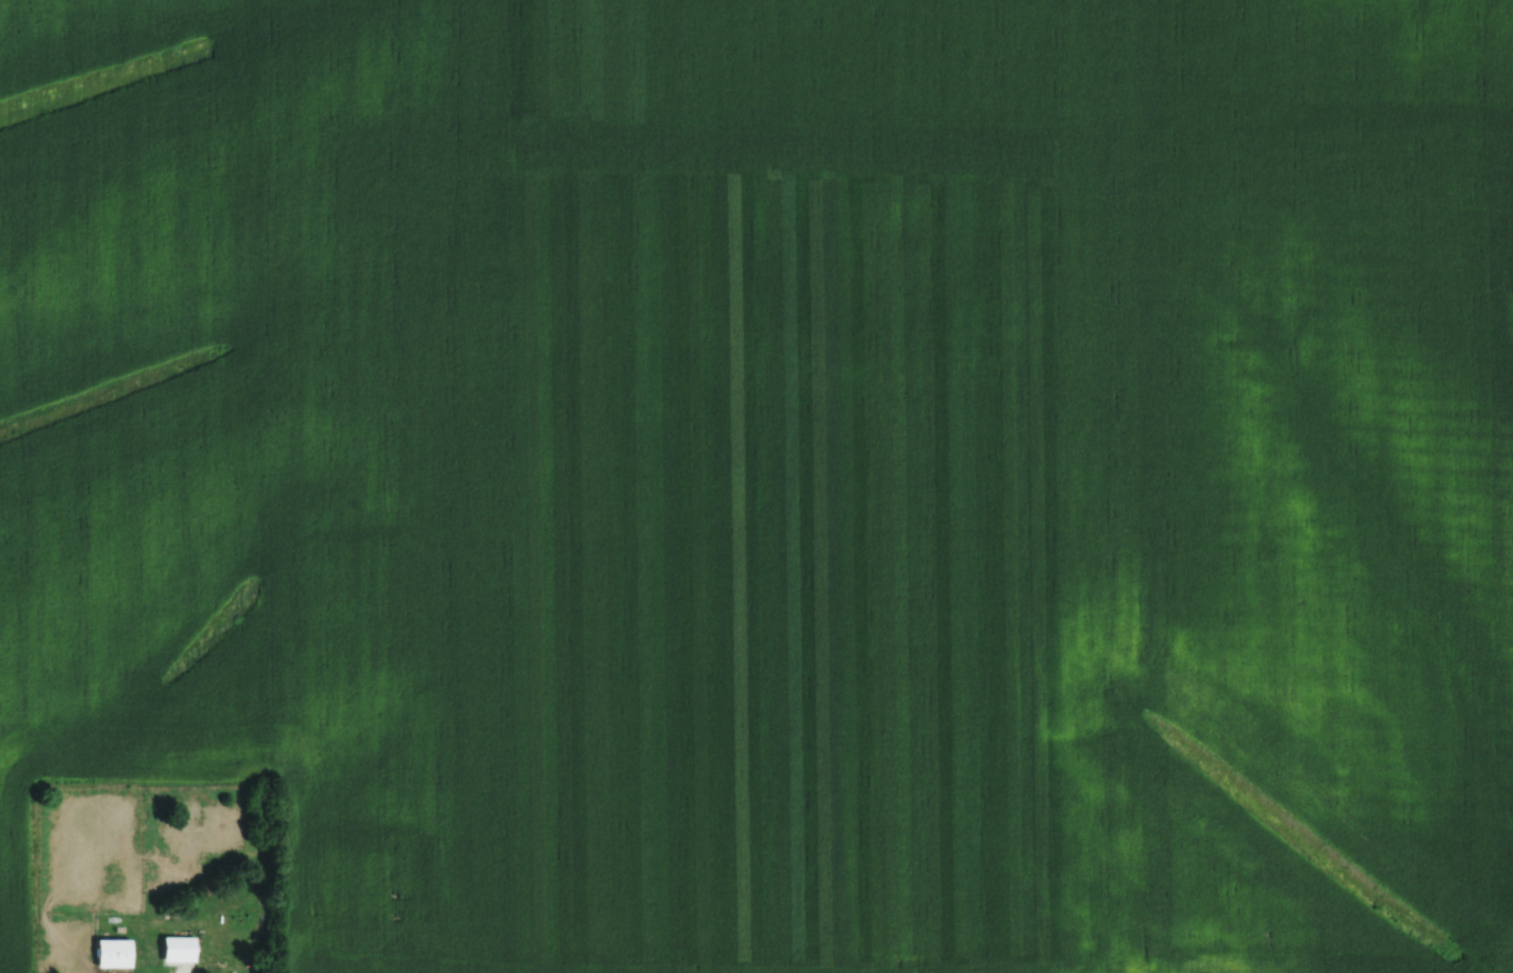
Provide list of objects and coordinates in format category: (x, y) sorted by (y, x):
building: (175, 949)
building: (109, 953)

